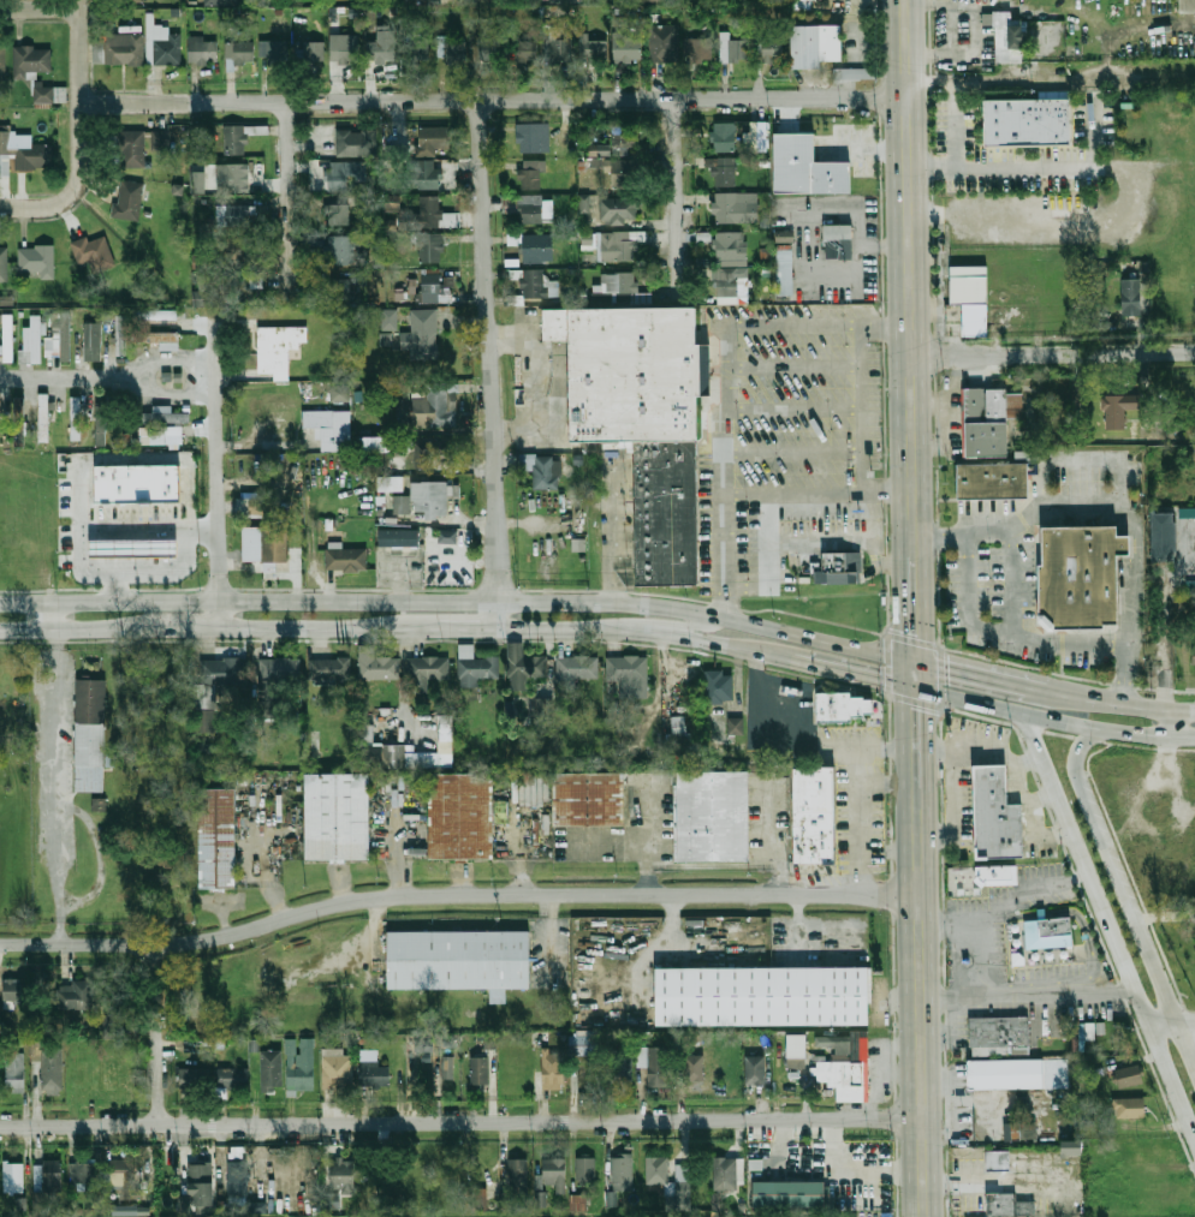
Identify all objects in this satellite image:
building: (566, 0)
building: (653, 0)
building: (132, 1)
building: (224, 2)
building: (799, 4)
road: (963, 4)
building: (1187, 6)
road: (38, 7)
road: (1128, 29)
building: (1009, 38)
building: (161, 43)
building: (662, 43)
building: (589, 46)
building: (815, 46)
building: (626, 47)
building: (451, 48)
building: (697, 48)
building: (771, 48)
building: (203, 49)
building: (382, 49)
building: (493, 49)
building: (732, 49)
building: (119, 50)
building: (559, 50)
road: (79, 52)
building: (310, 52)
building: (347, 52)
building: (239, 53)
building: (418, 53)
building: (273, 54)
building: (527, 54)
building: (31, 61)
building: (4, 62)
building: (854, 73)
building: (50, 94)
road: (638, 97)
building: (1028, 123)
road: (953, 127)
building: (757, 136)
building: (239, 137)
building: (725, 137)
building: (530, 138)
building: (161, 139)
building: (319, 139)
building: (434, 139)
building: (356, 142)
building: (617, 142)
building: (398, 145)
building: (131, 149)
building: (599, 150)
building: (23, 153)
road: (1039, 165)
building: (807, 167)
building: (724, 172)
building: (619, 173)
building: (237, 174)
building: (339, 174)
building: (428, 174)
building: (533, 174)
building: (198, 181)
road: (75, 185)
road: (677, 193)
building: (133, 201)
road: (290, 201)
building: (584, 203)
building: (730, 208)
building: (531, 209)
building: (619, 210)
building: (333, 213)
building: (433, 214)
building: (238, 215)
road: (1060, 217)
building: (206, 225)
building: (784, 235)
building: (839, 241)
building: (620, 246)
building: (432, 247)
building: (731, 247)
building: (338, 249)
building: (535, 249)
building: (94, 252)
building: (242, 252)
building: (377, 252)
building: (37, 261)
building: (4, 263)
building: (785, 273)
road: (911, 278)
building: (726, 281)
building: (536, 285)
building: (617, 285)
building: (239, 287)
building: (338, 288)
building: (432, 288)
building: (201, 292)
building: (970, 297)
building: (1130, 297)
building: (6, 300)
building: (155, 314)
building: (388, 320)
building: (422, 334)
building: (120, 335)
building: (8, 338)
building: (60, 338)
building: (34, 339)
building: (161, 339)
building: (385, 339)
building: (93, 342)
street lamp: (845, 342)
street lamp: (737, 345)
building: (278, 348)
road: (1053, 353)
road: (165, 354)
road: (492, 362)
road: (60, 375)
building: (635, 376)
road: (724, 376)
road: (536, 387)
building: (340, 393)
road: (164, 396)
building: (433, 408)
road: (850, 408)
building: (1117, 408)
road: (787, 410)
building: (166, 416)
building: (43, 417)
building: (76, 418)
building: (19, 420)
building: (989, 420)
building: (102, 422)
building: (331, 426)
street lamp: (826, 428)
street lamp: (738, 430)
building: (162, 439)
building: (373, 445)
building: (424, 453)
road: (1082, 459)
parking lot: (1138, 470)
building: (545, 472)
street lamp: (1050, 477)
street lamp: (1106, 478)
building: (993, 481)
parking lot: (1082, 481)
building: (137, 482)
building: (390, 483)
road: (820, 489)
road: (215, 491)
building: (430, 500)
street lamp: (848, 502)
street lamp: (745, 503)
building: (260, 506)
parking lot: (992, 508)
building: (666, 513)
road: (869, 514)
road: (1066, 515)
parking lot: (147, 517)
road: (1125, 525)
road: (1131, 525)
building: (447, 536)
road: (148, 537)
building: (397, 537)
building: (1165, 537)
road: (852, 541)
street lamp: (988, 542)
building: (248, 543)
building: (275, 544)
road: (1125, 544)
building: (1126, 544)
road: (1132, 544)
building: (132, 553)
gas station: (132, 553)
road: (81, 556)
road: (188, 556)
building: (347, 559)
road: (771, 559)
building: (843, 562)
road: (1130, 568)
parking lot: (1028, 574)
road: (1126, 575)
road: (133, 577)
building: (1081, 577)
street lamp: (988, 578)
parking lot: (989, 580)
road: (117, 589)
parking lot: (952, 592)
road: (1012, 596)
road: (358, 598)
road: (916, 607)
road: (50, 616)
street lamp: (987, 616)
road: (620, 621)
road: (439, 625)
road: (297, 626)
road: (692, 626)
road: (157, 628)
road: (49, 630)
road: (644, 631)
traffic signals: (916, 631)
road: (1129, 633)
road: (816, 637)
road: (54, 642)
road: (602, 642)
road: (1165, 646)
parking lot: (1010, 650)
building: (1194, 655)
street lamp: (1110, 658)
street lamp: (1054, 661)
parking lot: (1083, 661)
building: (327, 664)
building: (376, 664)
building: (476, 667)
building: (525, 667)
traffic signals: (947, 667)
building: (575, 670)
road: (851, 670)
building: (224, 672)
building: (427, 672)
road: (916, 673)
building: (278, 674)
building: (630, 674)
road: (981, 675)
traffic signals: (880, 676)
road: (1118, 679)
road: (1126, 679)
building: (720, 687)
road: (1120, 704)
building: (543, 706)
building: (842, 708)
traffic signals: (917, 710)
road: (790, 716)
road: (1054, 721)
road: (1172, 723)
parking lot: (46, 726)
building: (735, 726)
building: (678, 729)
building: (446, 730)
building: (88, 733)
road: (917, 733)
road: (887, 748)
road: (979, 753)
building: (371, 754)
road: (887, 783)
road: (1077, 786)
road: (59, 798)
road: (1040, 798)
building: (589, 800)
road: (951, 809)
road: (1029, 812)
building: (462, 816)
building: (714, 816)
building: (815, 816)
building: (997, 816)
building: (338, 817)
road: (856, 823)
building: (218, 840)
road: (708, 863)
road: (1110, 866)
building: (995, 875)
road: (1132, 884)
road: (457, 893)
road: (993, 903)
road: (1108, 925)
road: (1135, 925)
road: (955, 932)
building: (1050, 933)
road: (1087, 933)
road: (1104, 950)
building: (460, 961)
building: (16, 991)
road: (1030, 994)
building: (75, 996)
building: (763, 997)
road: (925, 997)
road: (1172, 1018)
road: (1171, 1022)
building: (111, 1026)
building: (1000, 1032)
road: (157, 1034)
building: (583, 1045)
building: (798, 1051)
building: (658, 1063)
building: (302, 1064)
building: (447, 1067)
building: (623, 1068)
building: (695, 1069)
building: (848, 1069)
building: (272, 1070)
building: (756, 1070)
building: (53, 1072)
building: (338, 1072)
building: (553, 1072)
building: (16, 1073)
building: (480, 1073)
building: (375, 1074)
building: (1006, 1074)
building: (1129, 1076)
building: (233, 1078)
building: (195, 1084)
road: (965, 1097)
building: (1128, 1106)
road: (462, 1121)
building: (1018, 1129)
building: (1070, 1147)
building: (995, 1159)
building: (585, 1170)
building: (555, 1174)
building: (726, 1174)
building: (52, 1175)
building: (121, 1175)
building: (344, 1175)
building: (83, 1176)
building: (14, 1177)
building: (238, 1180)
building: (622, 1181)
building: (671, 1181)
building: (517, 1182)
building: (202, 1183)
building: (487, 1183)
road: (987, 1187)
building: (785, 1193)
building: (475, 1198)
building: (540, 1198)
building: (578, 1203)
building: (1006, 1205)
building: (256, 1206)
building: (130, 1211)

